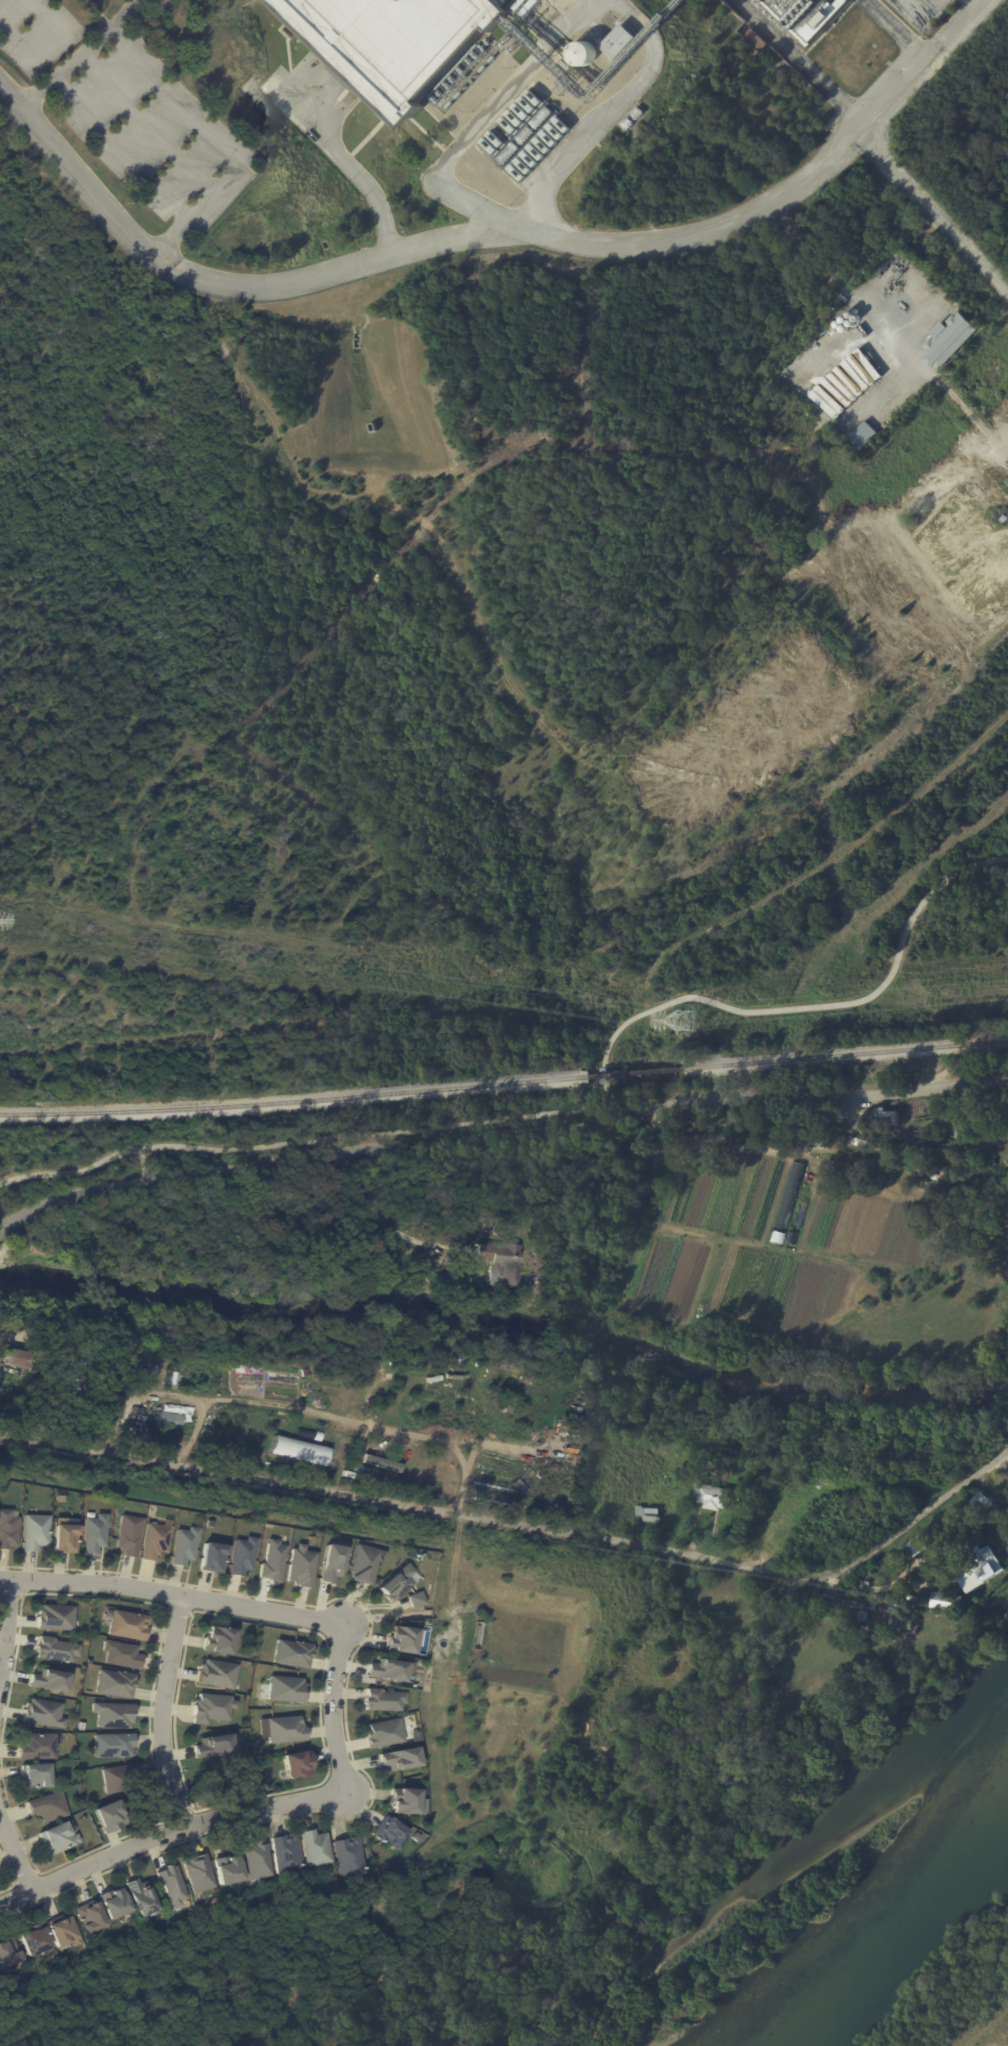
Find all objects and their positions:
parking lot: (925, 14)
road: (124, 15)
building: (803, 17)
road: (901, 28)
parking lot: (36, 35)
building: (755, 40)
building: (621, 43)
building: (398, 45)
building: (587, 53)
road: (807, 62)
road: (176, 99)
building: (639, 114)
building: (516, 118)
building: (542, 119)
building: (629, 125)
road: (144, 126)
parking lot: (152, 127)
building: (526, 137)
road: (117, 153)
building: (508, 155)
road: (346, 167)
road: (932, 219)
road: (509, 223)
road: (490, 237)
building: (955, 341)
building: (851, 377)
building: (836, 391)
building: (826, 401)
building: (862, 435)
road: (823, 1000)
power tower: (688, 1019)
railway: (846, 1053)
railway: (635, 1072)
road: (600, 1089)
railway: (293, 1100)
building: (880, 1119)
building: (1006, 1119)
road: (417, 1128)
building: (957, 1130)
road: (498, 1134)
building: (758, 1138)
building: (987, 1140)
building: (807, 1141)
building: (858, 1142)
road: (114, 1153)
road: (145, 1163)
building: (987, 1163)
building: (926, 1170)
building: (843, 1172)
building: (666, 1177)
building: (789, 1195)
building: (777, 1237)
building: (791, 1238)
building: (498, 1261)
building: (458, 1265)
building: (537, 1289)
building: (100, 1337)
building: (122, 1337)
building: (15, 1359)
building: (128, 1368)
building: (67, 1369)
building: (609, 1406)
road: (365, 1425)
building: (615, 1426)
road: (194, 1436)
building: (381, 1462)
building: (58, 1496)
building: (712, 1496)
building: (977, 1501)
building: (208, 1521)
building: (7, 1527)
road: (522, 1527)
building: (33, 1529)
building: (93, 1532)
building: (64, 1534)
building: (128, 1535)
building: (153, 1541)
building: (183, 1544)
building: (918, 1550)
building: (241, 1554)
building: (211, 1555)
building: (271, 1558)
building: (331, 1561)
building: (363, 1561)
building: (300, 1565)
building: (979, 1565)
road: (25, 1580)
building: (395, 1581)
building: (867, 1583)
road: (11, 1595)
building: (414, 1599)
building: (947, 1602)
building: (791, 1604)
road: (178, 1610)
building: (55, 1618)
building: (906, 1623)
building: (127, 1625)
road: (293, 1627)
road: (6, 1628)
building: (401, 1638)
building: (217, 1640)
road: (160, 1641)
building: (54, 1644)
building: (119, 1652)
building: (290, 1654)
building: (385, 1671)
building: (214, 1674)
building: (48, 1680)
building: (113, 1681)
building: (284, 1689)
building: (383, 1699)
building: (210, 1706)
road: (163, 1711)
building: (42, 1713)
building: (111, 1714)
road: (332, 1716)
road: (345, 1717)
building: (283, 1728)
building: (382, 1733)
building: (413, 1736)
building: (110, 1743)
building: (36, 1745)
building: (213, 1746)
building: (399, 1757)
building: (294, 1765)
building: (35, 1776)
building: (117, 1778)
building: (406, 1800)
building: (46, 1807)
road: (179, 1811)
building: (109, 1814)
road: (167, 1832)
building: (389, 1833)
building: (58, 1838)
park: (565, 1846)
building: (315, 1848)
building: (287, 1854)
road: (15, 1855)
building: (346, 1858)
building: (257, 1861)
building: (229, 1868)
building: (199, 1871)
road: (11, 1874)
road: (25, 1875)
building: (172, 1884)
building: (139, 1895)
building: (111, 1904)
building: (87, 1918)
building: (62, 1931)
river: (894, 1937)
building: (33, 1938)
building: (6, 1951)
road: (285, 2025)
road: (48, 2031)

